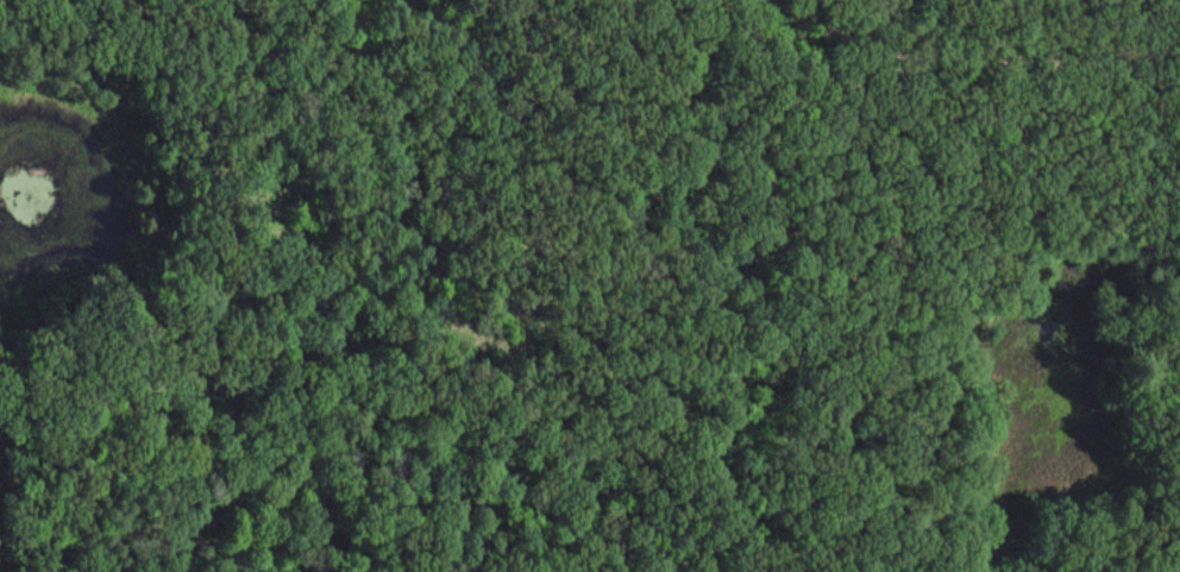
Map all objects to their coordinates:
road: (974, 63)

